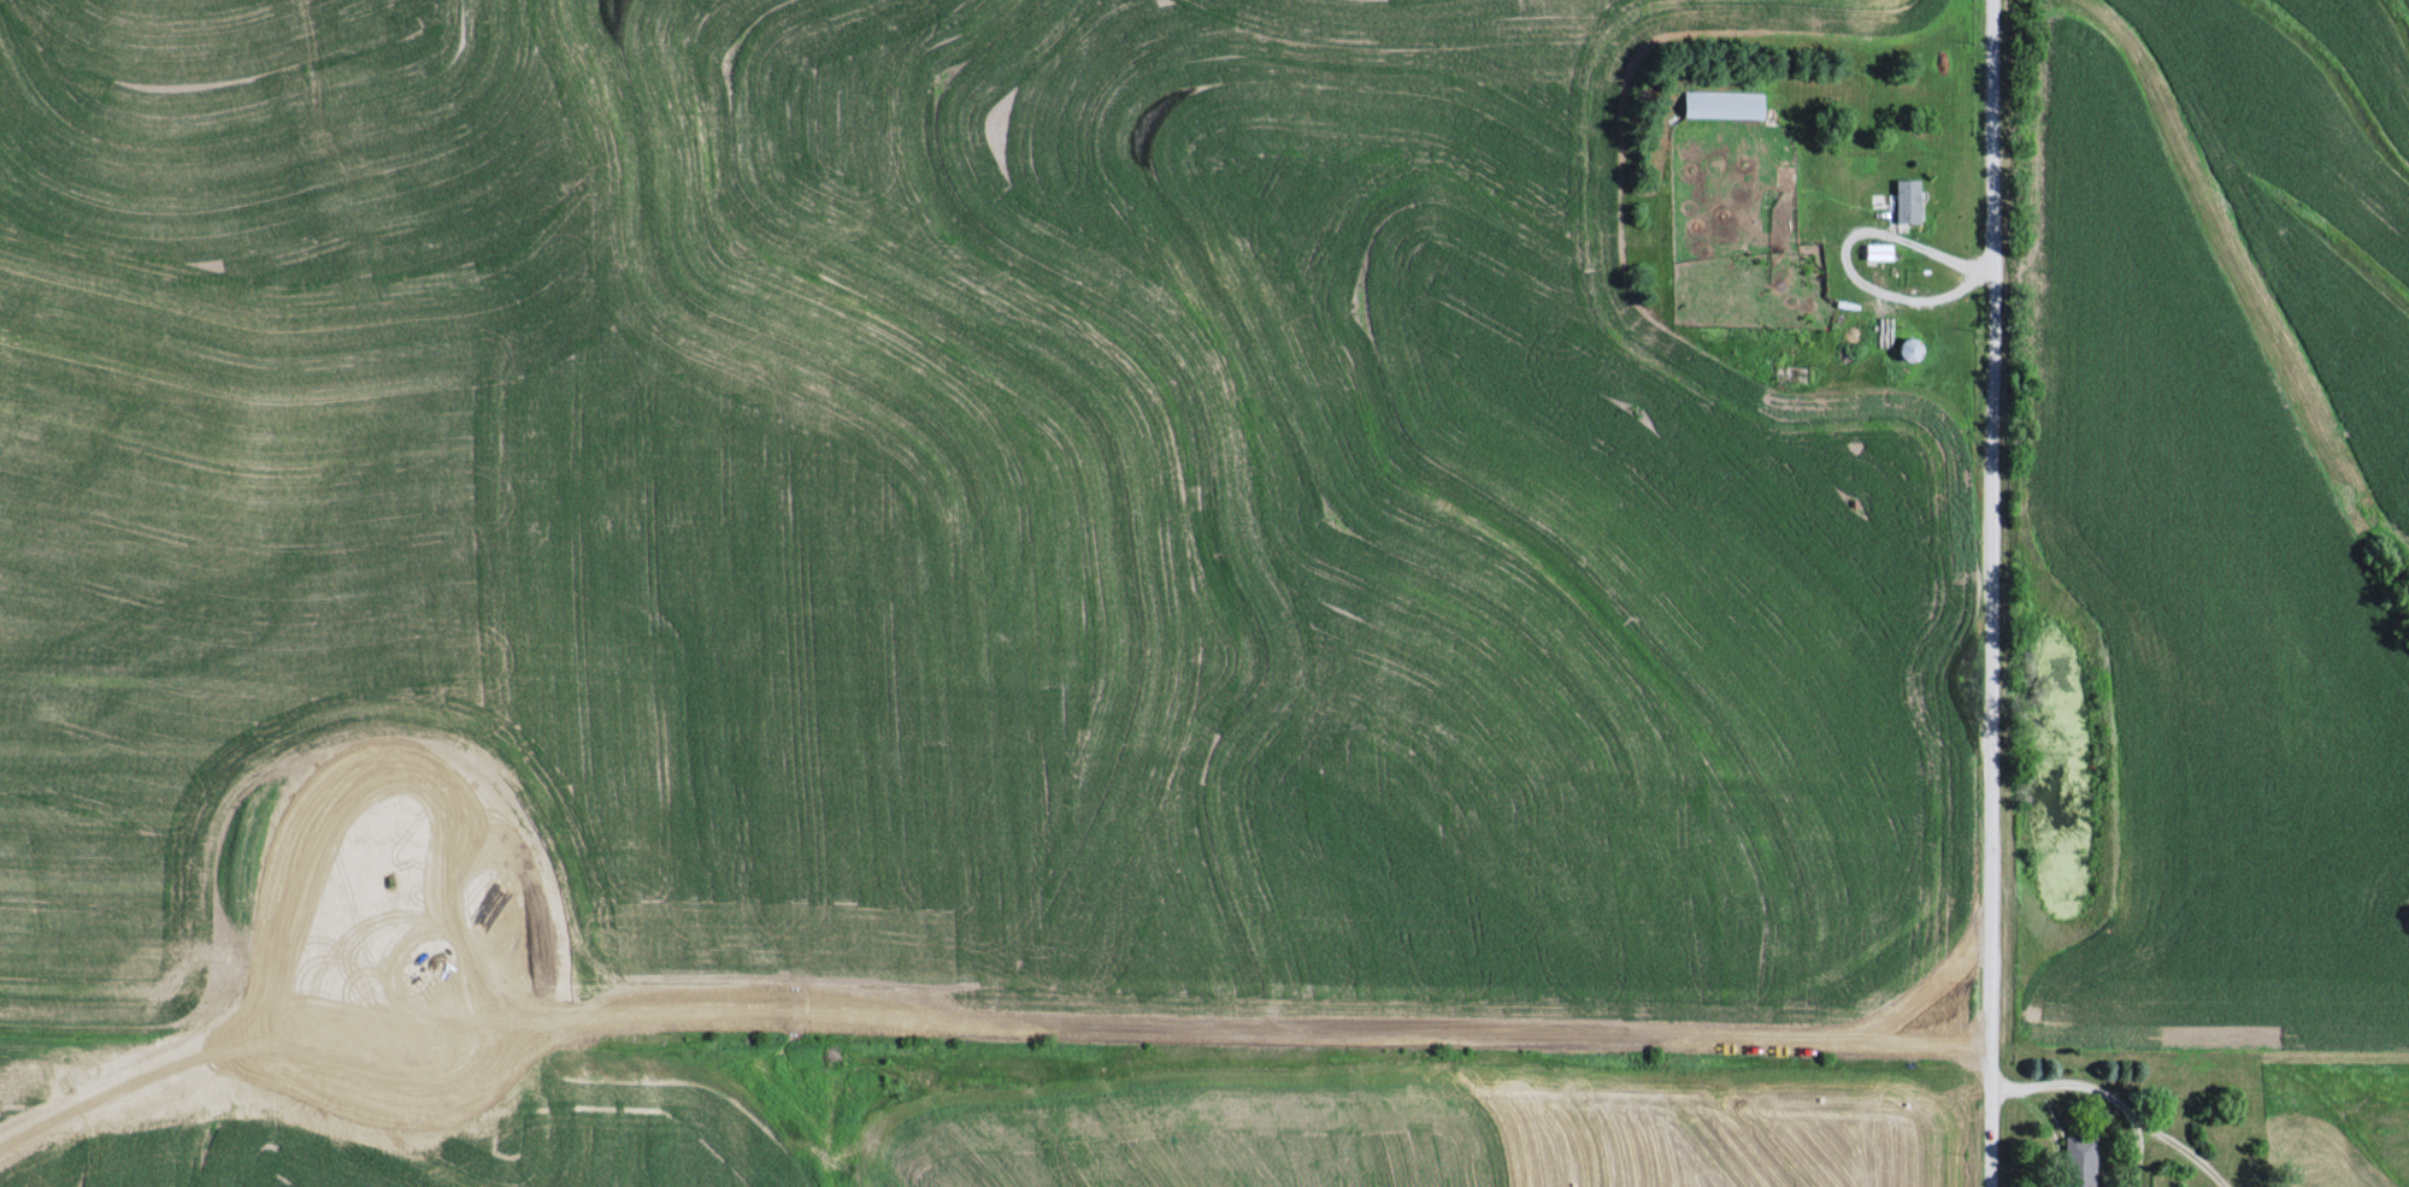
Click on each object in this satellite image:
building: (1726, 104)
building: (1910, 200)
building: (1885, 332)
building: (1912, 348)
road: (1991, 593)
wind turbine: (385, 888)
building: (2083, 1161)

